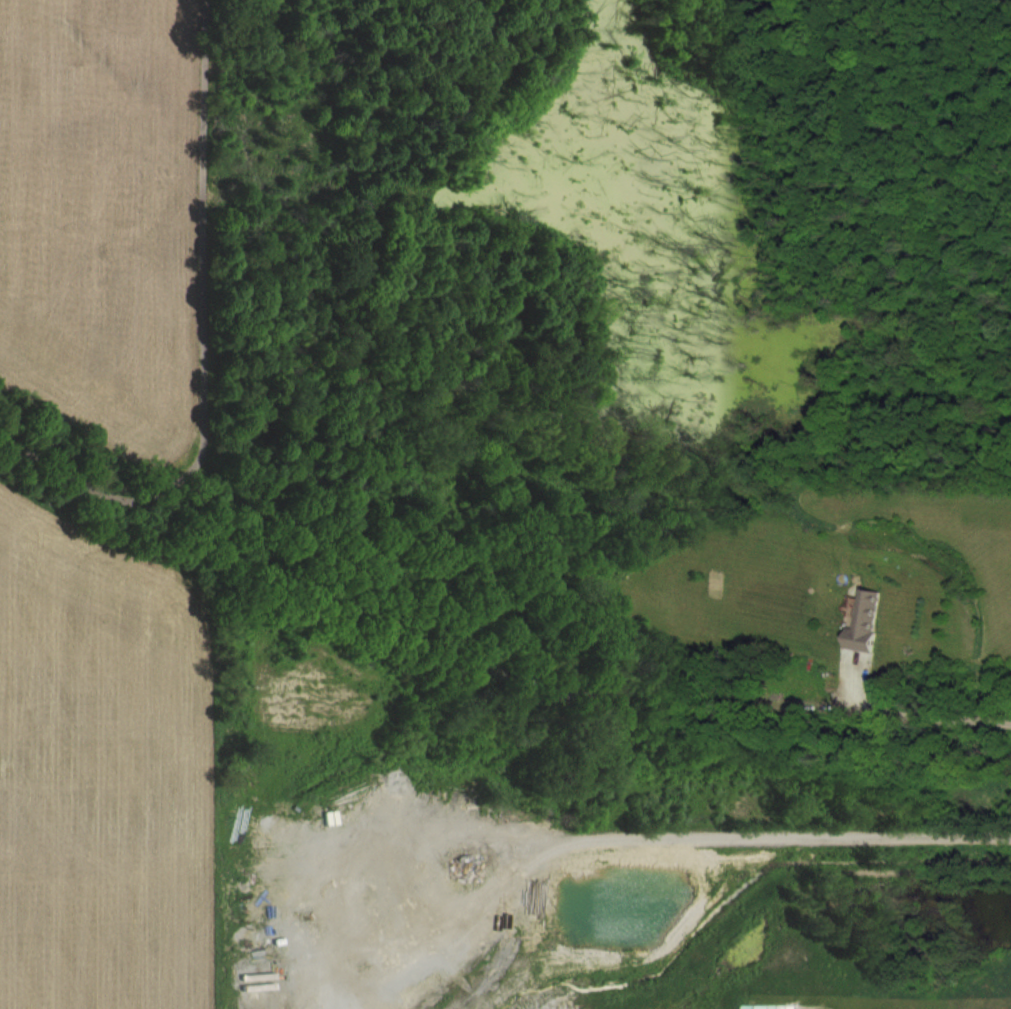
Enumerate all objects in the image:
building: (865, 620)
road: (486, 644)
road: (781, 836)
road: (335, 916)

